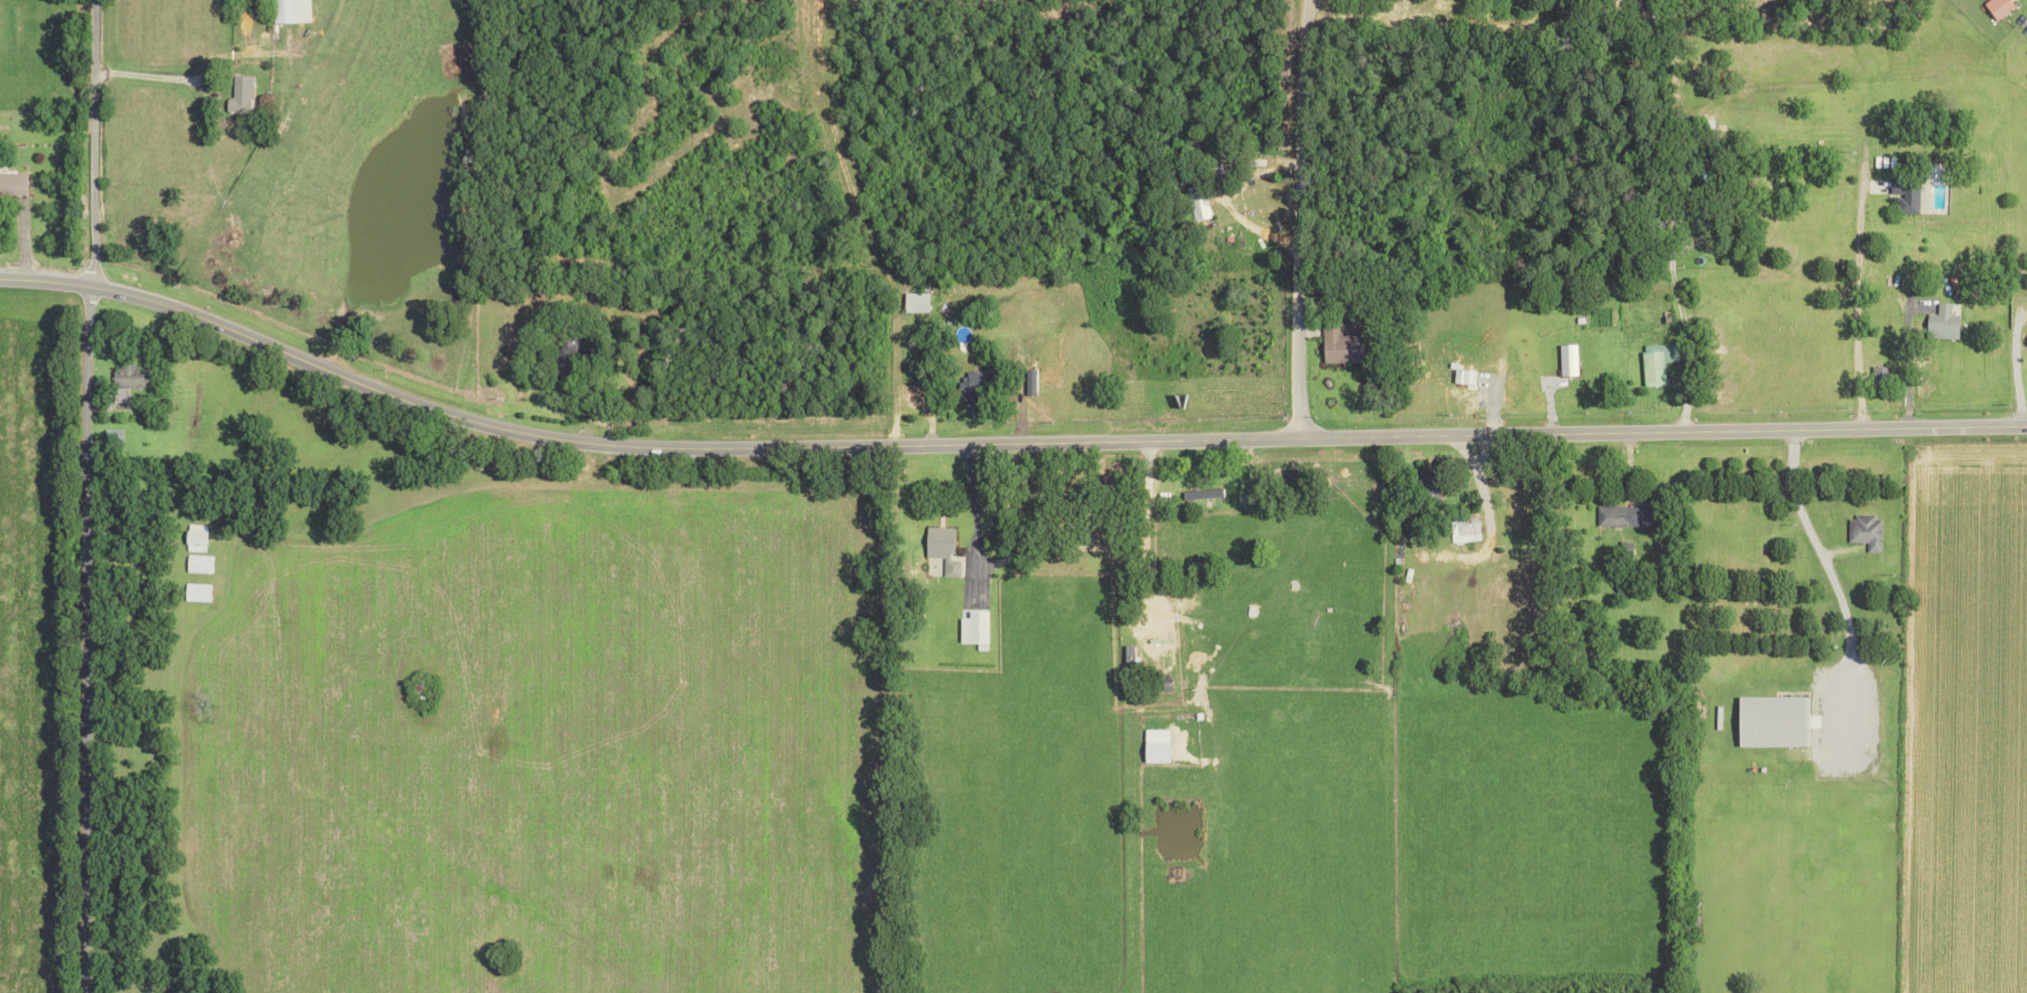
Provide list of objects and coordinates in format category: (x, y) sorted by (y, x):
building: (1999, 7)
building: (282, 11)
road: (1304, 13)
road: (147, 73)
building: (239, 95)
road: (91, 141)
building: (1935, 174)
building: (12, 183)
building: (1906, 196)
building: (1200, 202)
road: (1299, 212)
building: (916, 302)
road: (1856, 308)
road: (1680, 316)
building: (1943, 323)
building: (1342, 343)
building: (569, 356)
building: (1569, 360)
building: (1657, 362)
road: (1905, 365)
road: (2015, 371)
building: (127, 381)
building: (970, 387)
road: (1000, 443)
building: (1429, 491)
building: (1203, 494)
building: (1242, 501)
building: (1624, 515)
building: (1866, 531)
building: (194, 538)
building: (943, 548)
building: (197, 564)
road: (1826, 573)
building: (195, 592)
building: (973, 628)
road: (78, 637)
building: (1154, 642)
building: (1163, 681)
building: (1774, 721)

